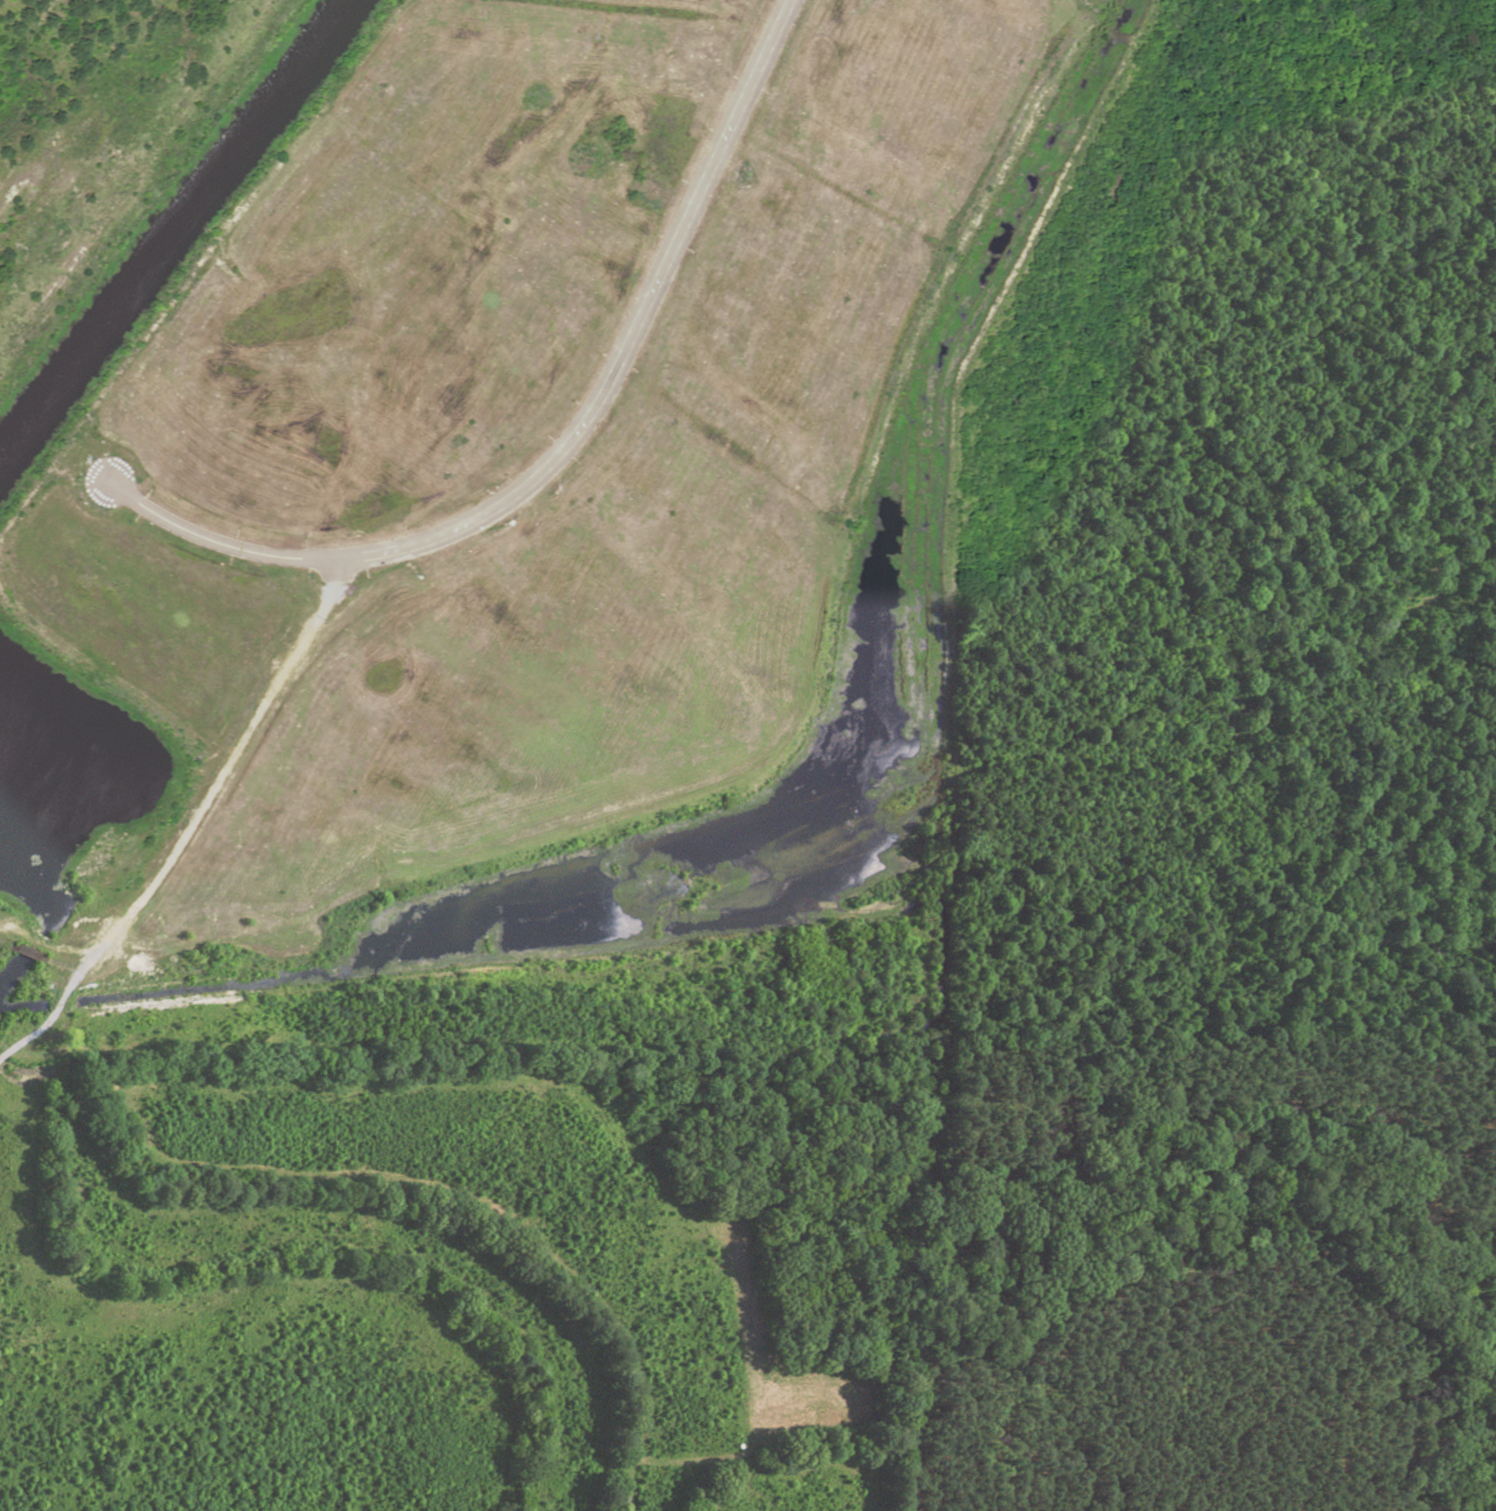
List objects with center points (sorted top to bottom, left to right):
river: (174, 246)
road: (559, 446)
river: (25, 901)

